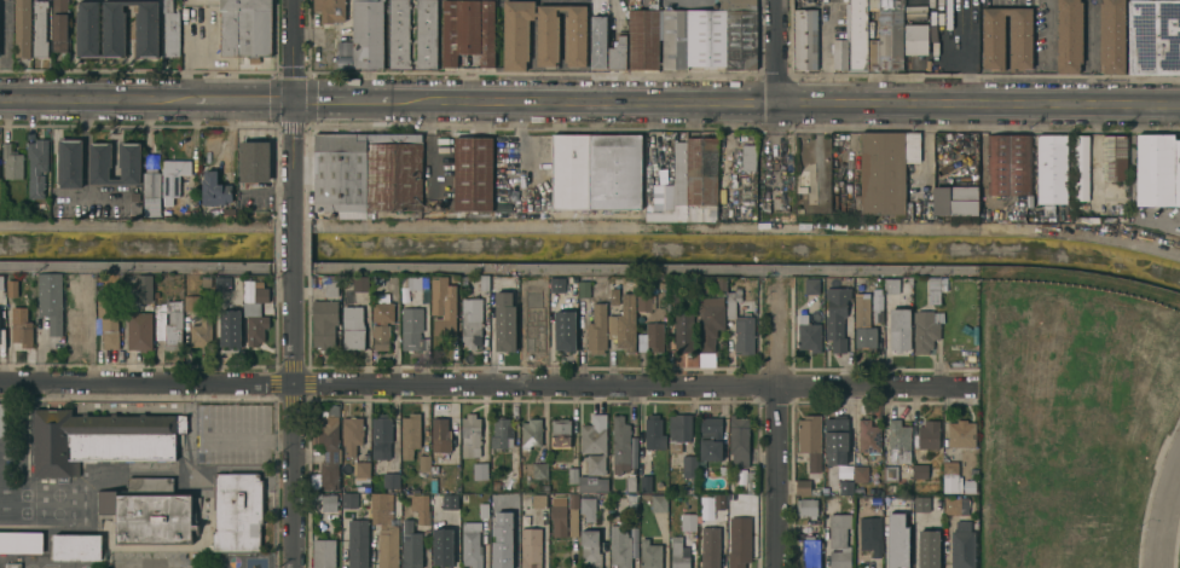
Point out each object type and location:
building: (329, 10)
building: (59, 25)
building: (245, 27)
building: (22, 28)
building: (40, 28)
building: (112, 28)
building: (146, 28)
building: (87, 29)
building: (170, 30)
building: (468, 30)
building: (366, 33)
building: (515, 33)
building: (398, 34)
building: (426, 34)
building: (546, 34)
building: (574, 34)
building: (737, 34)
building: (857, 35)
building: (1069, 35)
building: (1111, 35)
building: (1153, 36)
building: (690, 37)
building: (887, 37)
building: (994, 37)
building: (1019, 37)
building: (643, 39)
building: (805, 39)
building: (916, 39)
building: (596, 42)
building: (618, 51)
building: (840, 53)
building: (937, 64)
building: (951, 66)
building: (926, 68)
road: (589, 100)
road: (776, 102)
road: (291, 108)
building: (748, 156)
building: (1114, 157)
building: (12, 161)
building: (254, 161)
building: (70, 162)
building: (100, 163)
building: (129, 163)
building: (37, 166)
road: (85, 166)
building: (1008, 166)
building: (1082, 167)
building: (1052, 169)
building: (1157, 169)
building: (596, 170)
building: (885, 170)
building: (366, 173)
building: (473, 173)
building: (173, 178)
building: (689, 184)
building: (214, 189)
building: (802, 189)
building: (151, 192)
building: (135, 196)
road: (104, 199)
building: (955, 199)
road: (129, 225)
road: (646, 226)
road: (1078, 233)
road: (291, 251)
building: (86, 280)
building: (207, 280)
building: (1, 282)
building: (415, 282)
building: (485, 282)
building: (355, 283)
building: (722, 283)
building: (221, 284)
building: (811, 285)
building: (553, 286)
building: (890, 286)
building: (145, 288)
building: (331, 288)
building: (584, 288)
building: (933, 289)
building: (253, 292)
building: (672, 295)
building: (614, 296)
building: (733, 296)
building: (51, 300)
building: (219, 300)
building: (887, 301)
building: (192, 302)
building: (522, 302)
building: (644, 302)
building: (444, 306)
building: (877, 312)
building: (258, 315)
building: (835, 317)
building: (382, 320)
building: (109, 321)
building: (169, 321)
building: (324, 321)
building: (472, 321)
building: (504, 321)
building: (710, 321)
building: (624, 323)
building: (863, 323)
building: (355, 325)
building: (412, 328)
building: (596, 329)
building: (898, 329)
building: (22, 330)
building: (77, 330)
building: (140, 330)
building: (231, 330)
building: (924, 330)
building: (565, 331)
building: (202, 332)
building: (683, 332)
building: (744, 334)
building: (531, 335)
building: (654, 335)
building: (809, 336)
road: (487, 386)
building: (2, 418)
road: (295, 425)
building: (382, 429)
building: (678, 430)
building: (501, 433)
building: (531, 433)
building: (560, 433)
building: (654, 433)
building: (809, 433)
building: (352, 434)
building: (410, 434)
road: (775, 434)
building: (960, 434)
building: (470, 435)
building: (834, 435)
building: (927, 435)
building: (868, 436)
building: (99, 439)
road: (249, 439)
building: (711, 439)
building: (440, 440)
building: (898, 440)
building: (739, 441)
building: (594, 442)
building: (620, 444)
building: (329, 452)
building: (423, 459)
building: (688, 465)
building: (361, 468)
building: (949, 469)
building: (480, 470)
building: (920, 470)
building: (540, 471)
building: (860, 473)
building: (890, 473)
building: (573, 475)
building: (391, 480)
building: (531, 482)
building: (751, 482)
building: (592, 483)
building: (630, 483)
building: (644, 483)
building: (802, 486)
building: (838, 486)
building: (442, 487)
building: (858, 489)
building: (348, 500)
building: (450, 500)
building: (538, 500)
building: (845, 500)
building: (875, 500)
building: (329, 502)
building: (364, 502)
building: (659, 503)
building: (718, 503)
building: (920, 504)
building: (954, 504)
building: (806, 506)
building: (421, 508)
building: (588, 508)
building: (889, 508)
building: (705, 509)
building: (484, 510)
road: (1163, 510)
building: (149, 511)
building: (237, 512)
building: (573, 514)
building: (559, 520)
building: (631, 522)
building: (689, 522)
building: (384, 531)
building: (870, 534)
building: (839, 540)
building: (21, 541)
building: (739, 541)
building: (357, 543)
building: (470, 544)
building: (410, 545)
building: (962, 545)
building: (77, 546)
building: (441, 546)
building: (621, 546)
building: (531, 547)
building: (590, 547)
building: (710, 547)
building: (501, 549)
building: (927, 549)
building: (810, 551)
building: (323, 552)
building: (678, 552)
building: (902, 553)
building: (649, 555)
building: (12, 564)
road: (151, 567)

